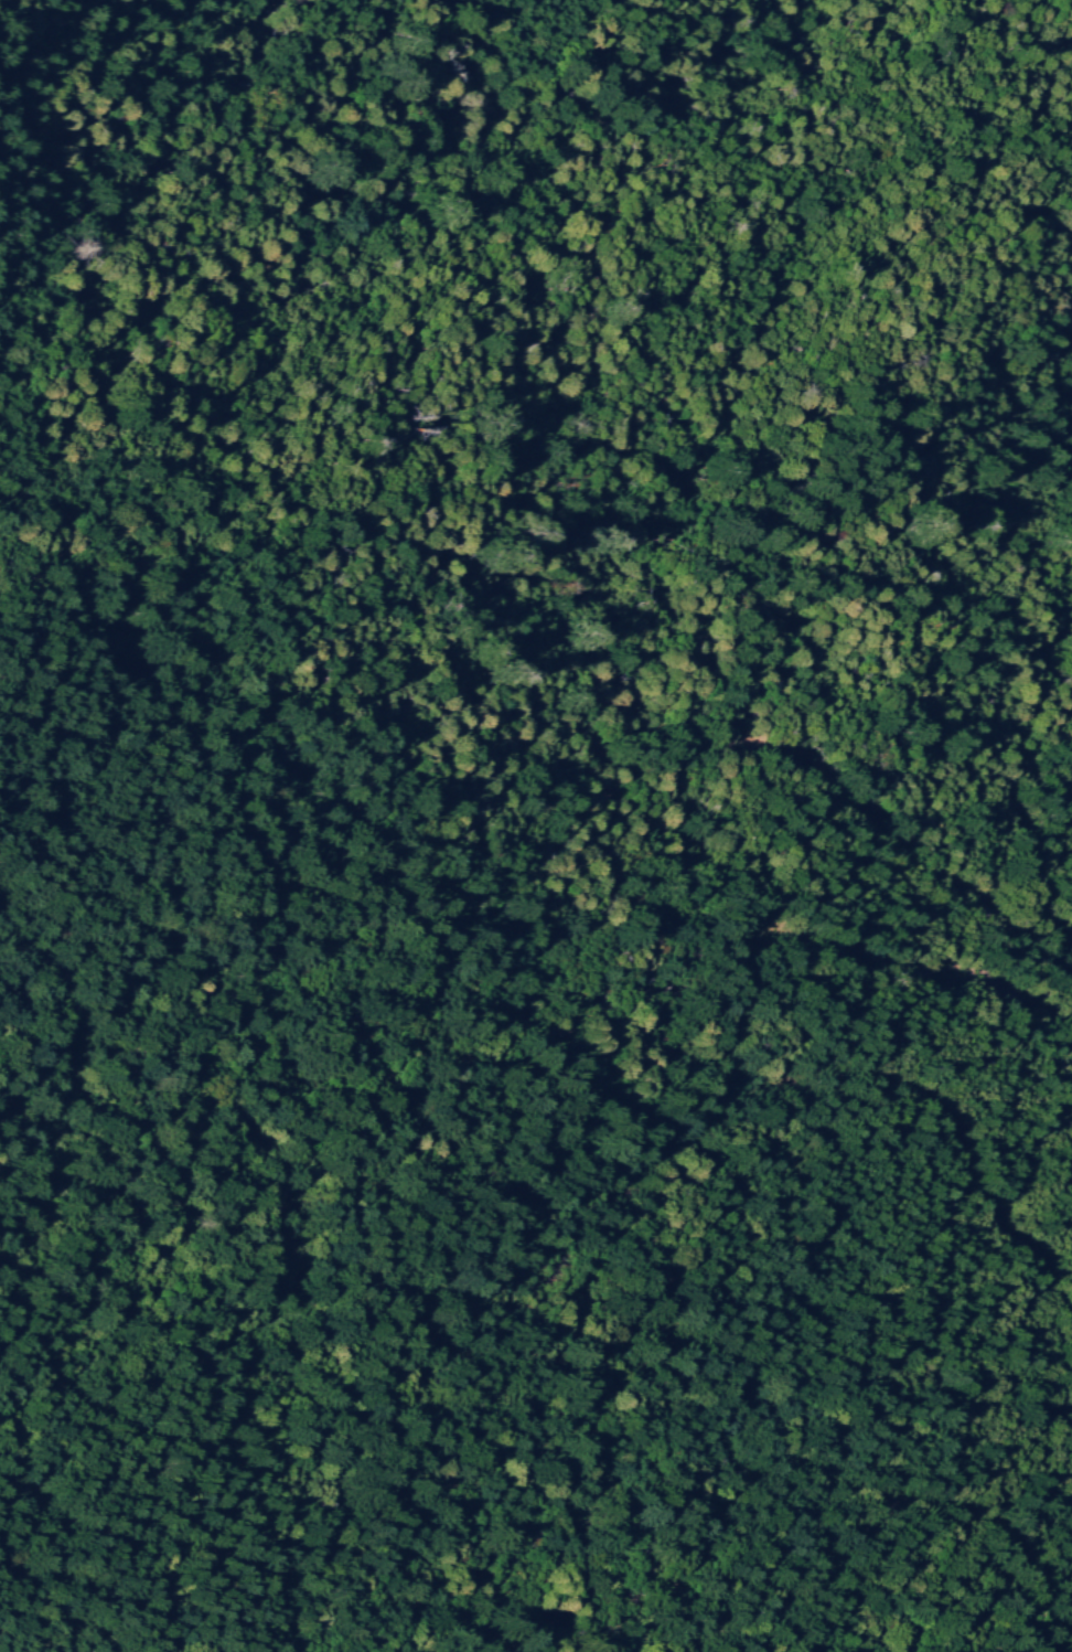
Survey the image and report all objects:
road: (554, 1622)

